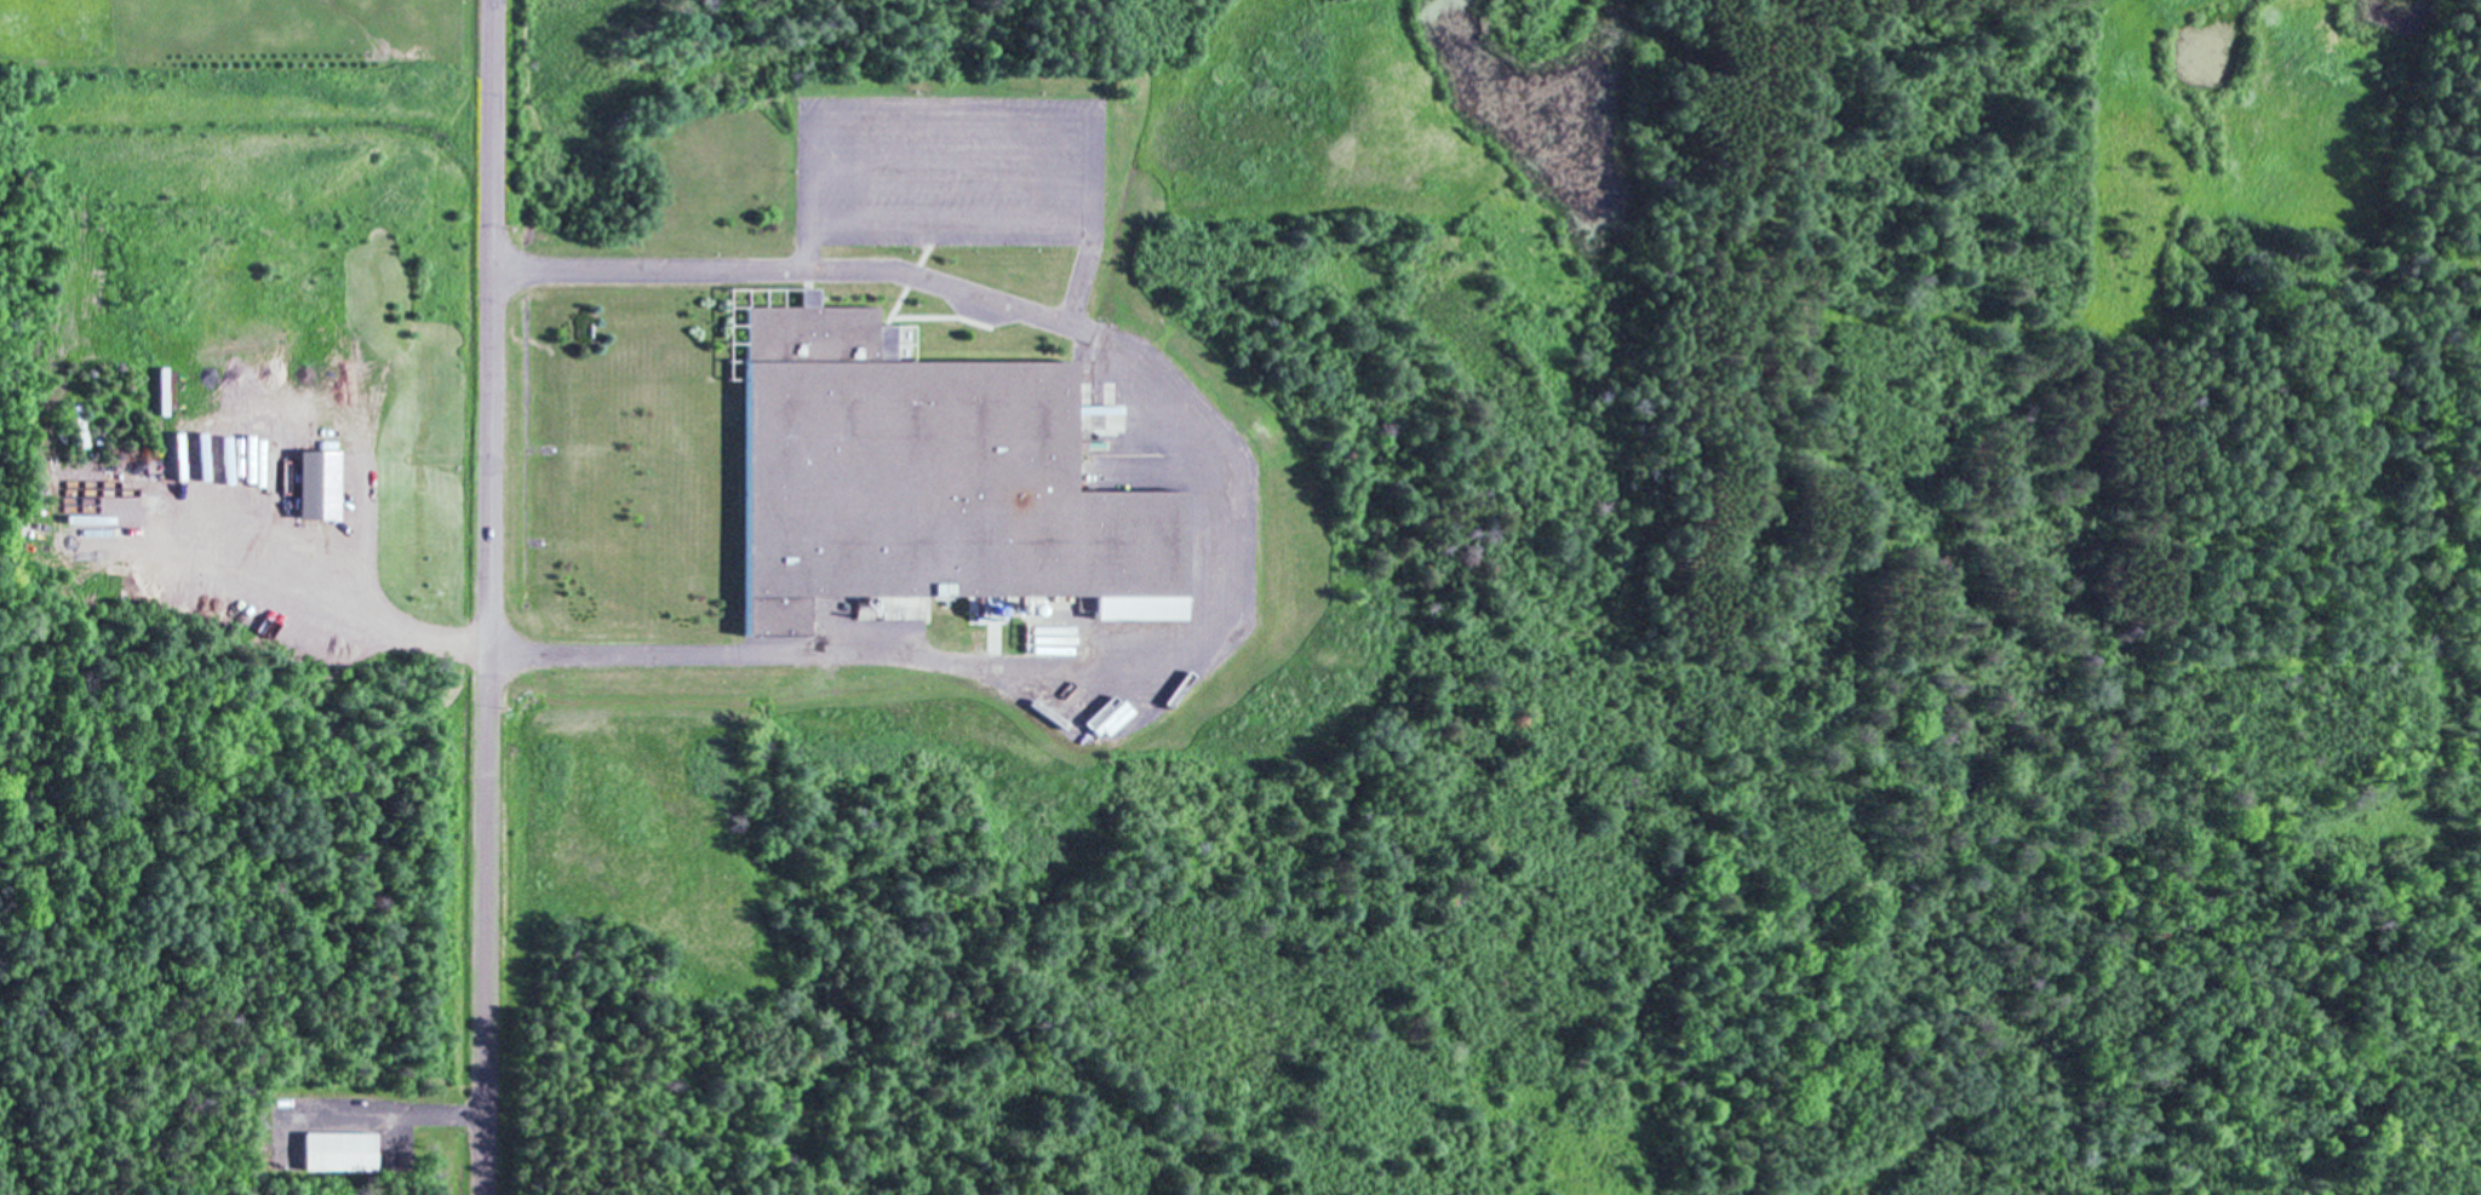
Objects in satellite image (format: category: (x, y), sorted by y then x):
crop: (237, 39)
road: (976, 120)
parking lot: (951, 170)
building: (928, 481)
building: (315, 487)
road: (1226, 517)
road: (486, 597)
park: (214, 896)
building: (338, 1149)

